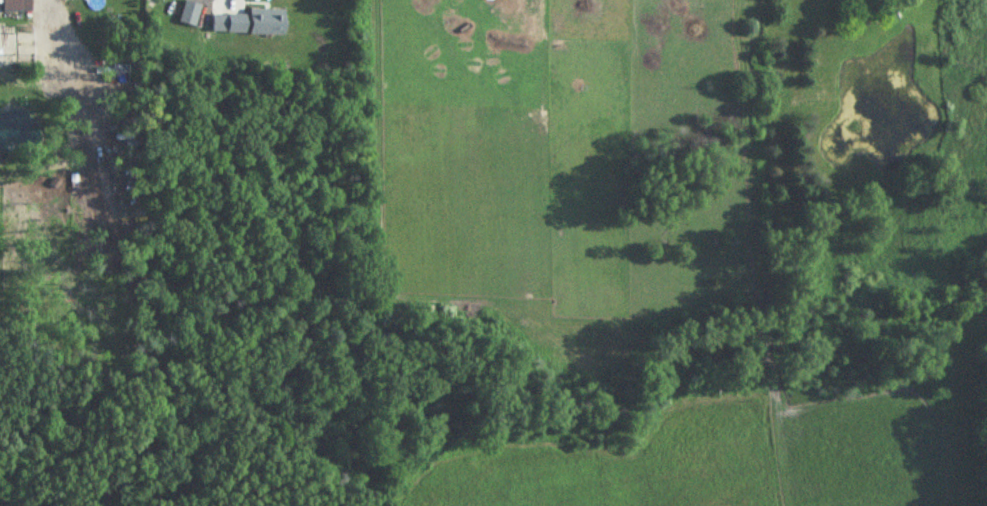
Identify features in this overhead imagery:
building: (16, 6)
building: (189, 14)
building: (257, 23)

